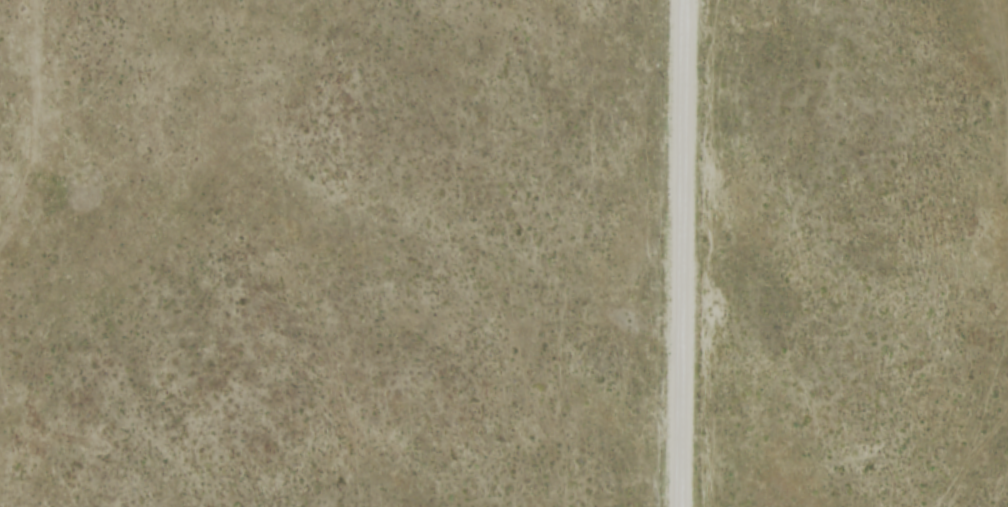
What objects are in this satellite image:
road: (683, 253)

